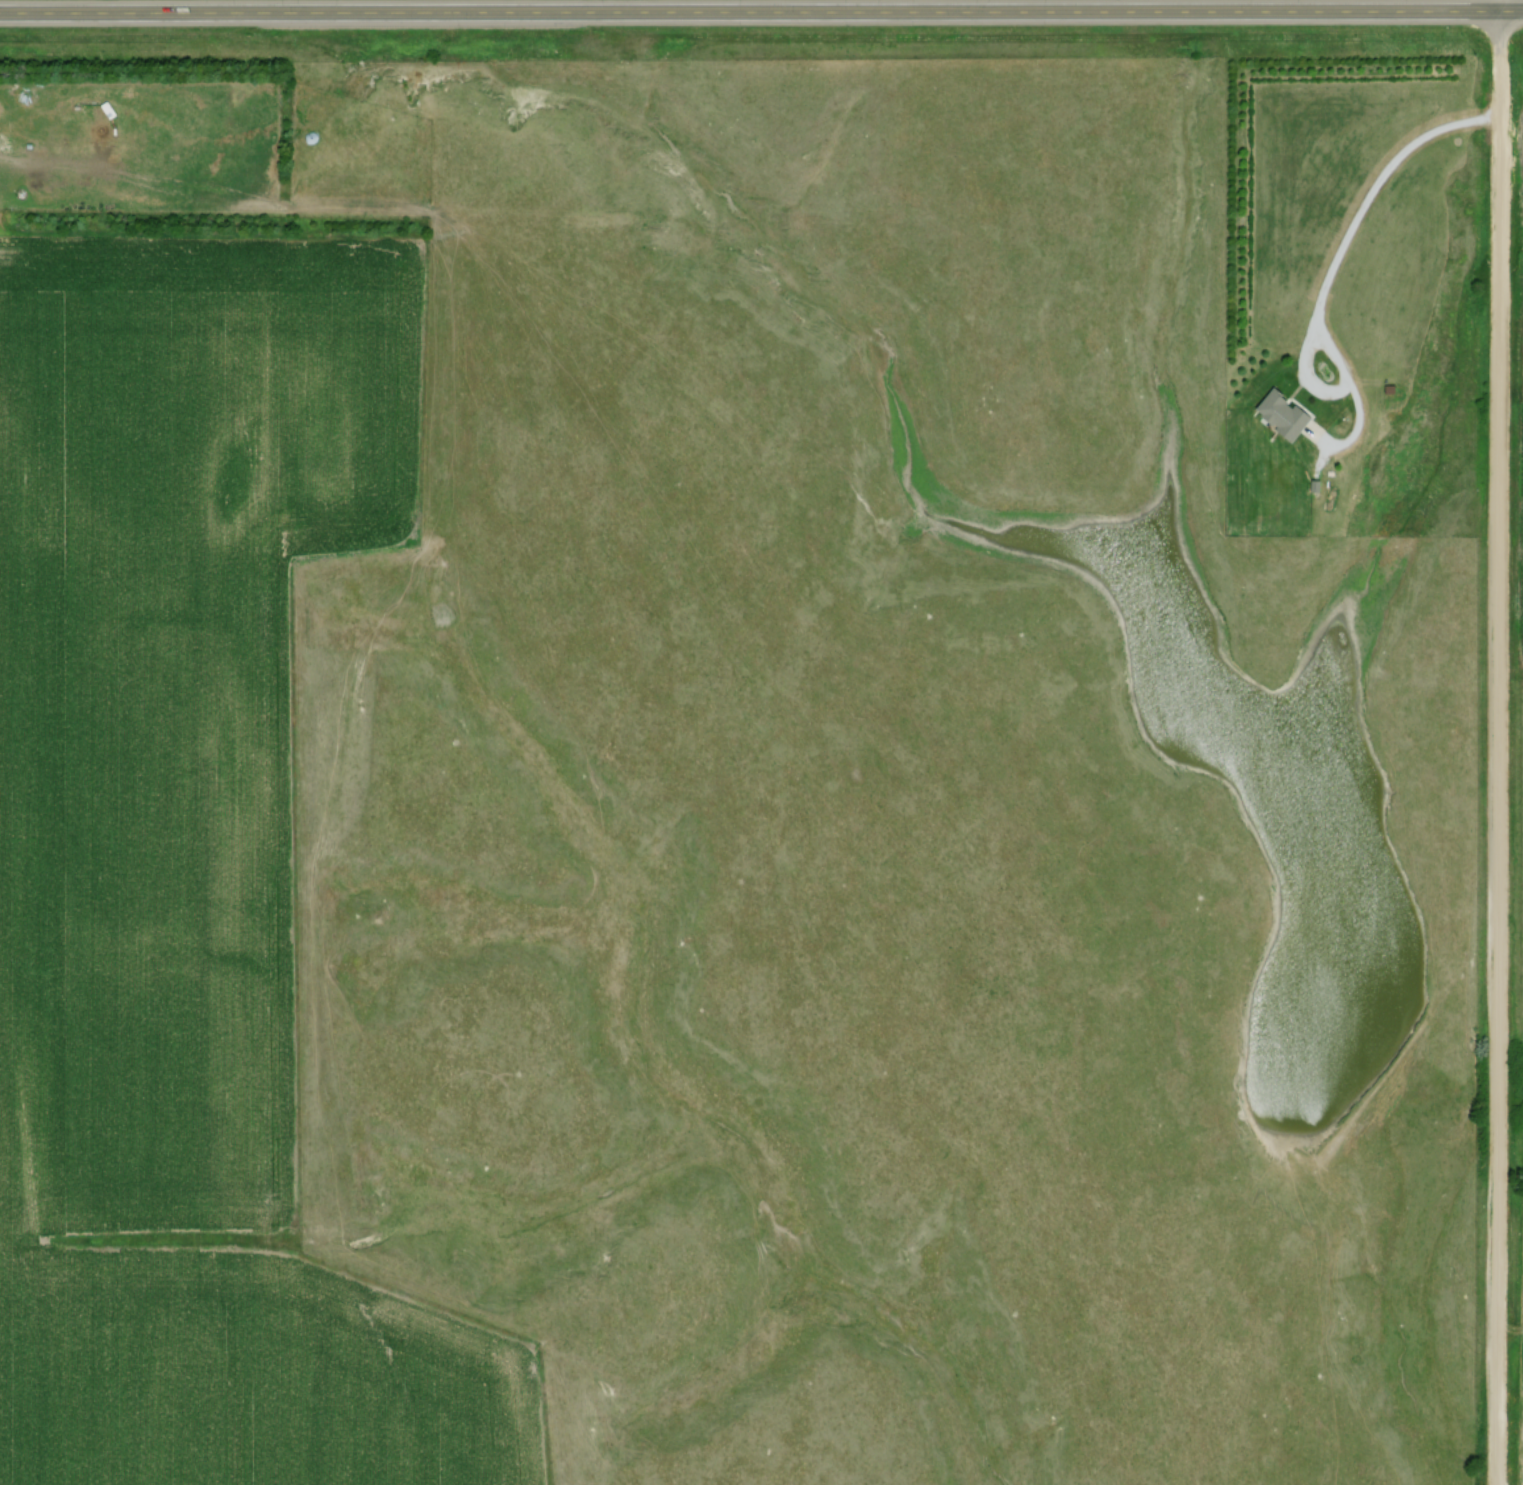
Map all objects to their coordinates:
road: (761, 11)
building: (1293, 414)
road: (1500, 742)

